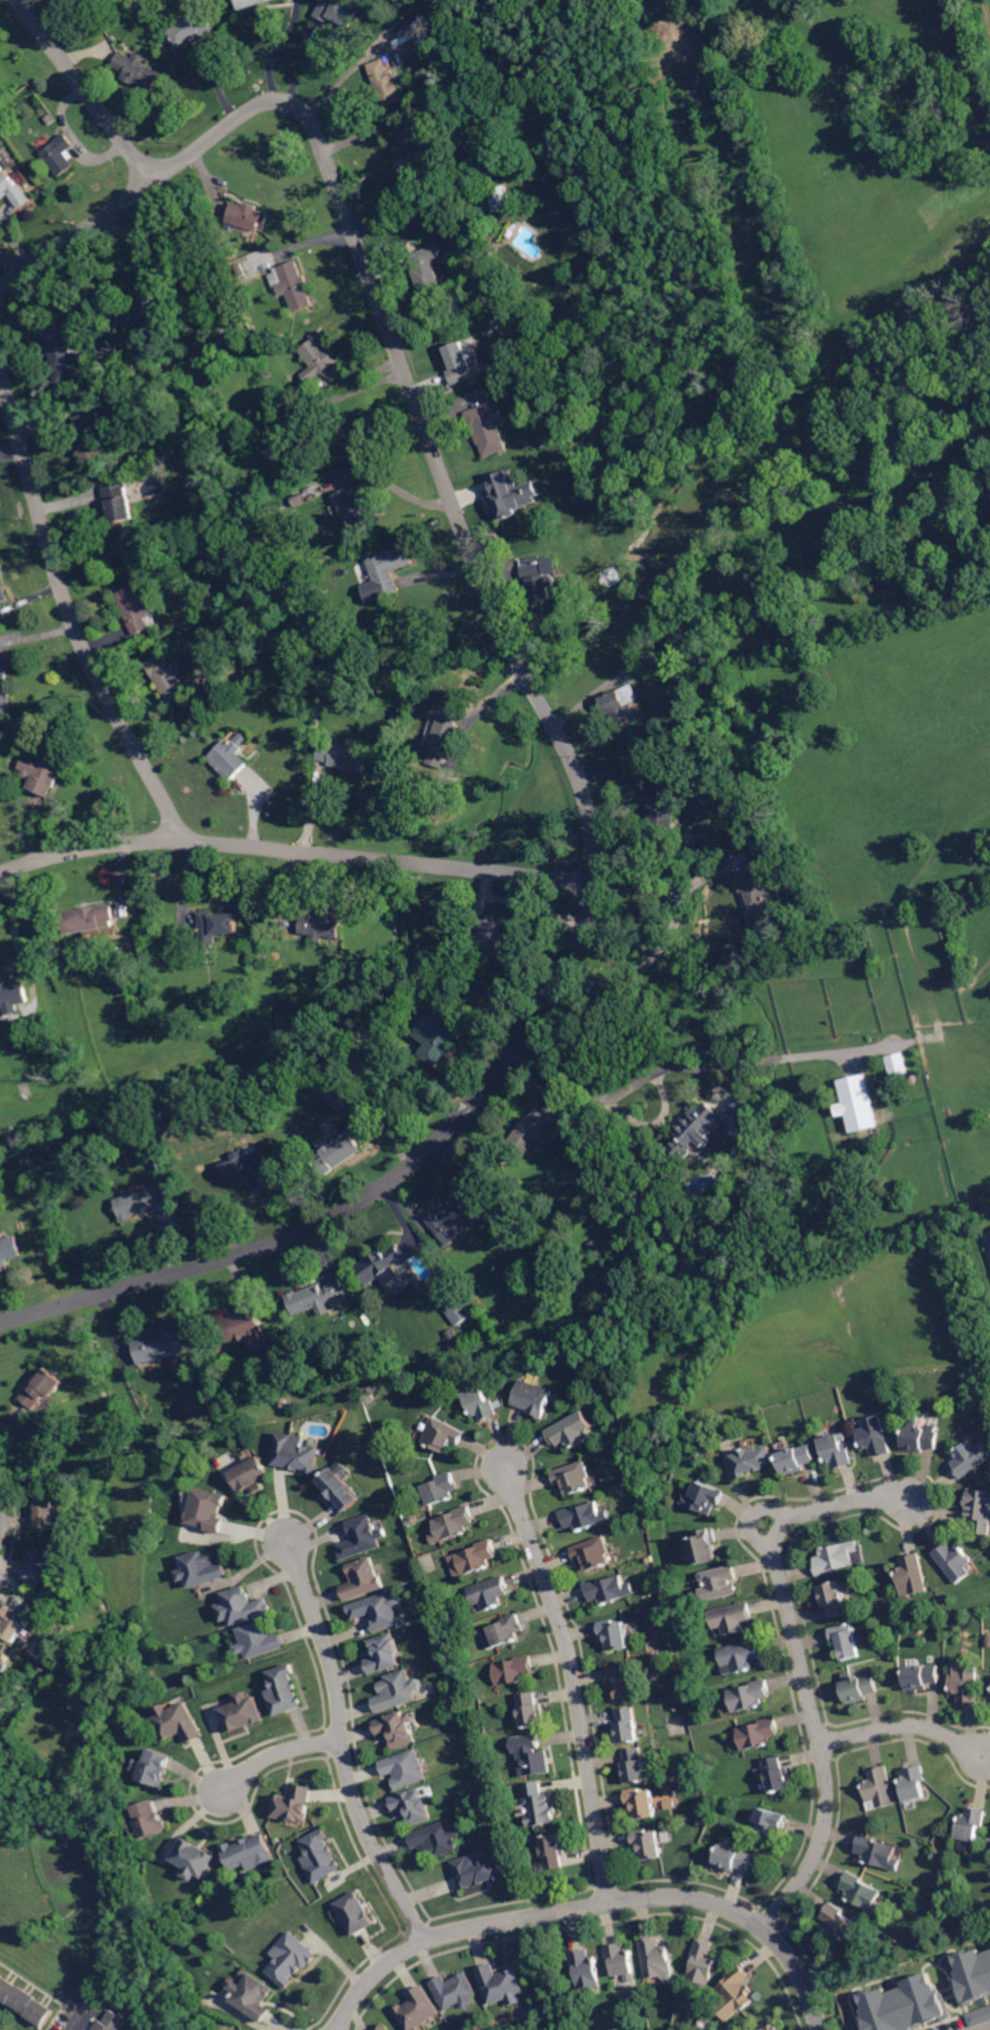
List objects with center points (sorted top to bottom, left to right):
building: (250, 3)
building: (338, 12)
building: (190, 28)
road: (276, 48)
building: (137, 70)
road: (345, 75)
building: (386, 83)
road: (86, 89)
building: (558, 140)
building: (60, 152)
building: (414, 152)
building: (13, 191)
building: (502, 199)
building: (247, 214)
road: (76, 233)
building: (426, 272)
building: (295, 286)
road: (227, 298)
building: (145, 303)
building: (62, 354)
building: (320, 361)
building: (459, 363)
building: (190, 393)
building: (116, 424)
building: (489, 428)
building: (90, 436)
building: (346, 439)
building: (622, 492)
building: (506, 498)
building: (123, 500)
building: (354, 512)
building: (390, 569)
building: (541, 576)
building: (4, 588)
building: (139, 608)
road: (71, 609)
building: (264, 666)
building: (172, 675)
building: (7, 686)
building: (694, 694)
building: (622, 705)
building: (444, 739)
building: (232, 756)
building: (343, 757)
building: (42, 775)
road: (580, 775)
building: (663, 814)
road: (295, 850)
building: (758, 896)
building: (89, 917)
road: (14, 919)
building: (323, 922)
building: (217, 925)
building: (491, 937)
road: (662, 948)
building: (416, 955)
building: (12, 994)
building: (440, 1044)
building: (897, 1065)
building: (330, 1068)
road: (658, 1071)
building: (859, 1102)
building: (742, 1123)
building: (538, 1128)
building: (693, 1132)
building: (337, 1151)
building: (246, 1164)
building: (162, 1165)
building: (147, 1200)
building: (672, 1204)
building: (455, 1222)
building: (599, 1248)
building: (10, 1249)
building: (381, 1262)
building: (560, 1279)
building: (316, 1295)
building: (457, 1312)
building: (247, 1325)
building: (456, 1338)
building: (160, 1345)
building: (377, 1361)
building: (43, 1388)
building: (532, 1398)
building: (479, 1404)
building: (571, 1431)
building: (442, 1435)
building: (875, 1436)
building: (919, 1438)
building: (836, 1451)
building: (296, 1453)
building: (970, 1457)
building: (796, 1459)
building: (752, 1460)
building: (250, 1474)
building: (574, 1477)
building: (440, 1488)
building: (339, 1489)
building: (702, 1497)
building: (979, 1509)
building: (207, 1511)
building: (48, 1512)
building: (584, 1516)
road: (0, 1518)
building: (452, 1524)
building: (361, 1538)
building: (701, 1545)
building: (595, 1552)
building: (477, 1557)
building: (835, 1557)
building: (954, 1561)
building: (41, 1565)
building: (203, 1569)
building: (912, 1574)
building: (363, 1580)
building: (718, 1583)
building: (607, 1589)
building: (490, 1593)
building: (834, 1598)
building: (242, 1607)
building: (379, 1611)
building: (732, 1617)
building: (13, 1623)
building: (507, 1630)
building: (615, 1634)
building: (260, 1640)
building: (845, 1641)
building: (0, 1647)
road: (798, 1651)
building: (384, 1654)
building: (741, 1655)
building: (69, 1659)
building: (4, 1663)
road: (571, 1666)
building: (516, 1669)
building: (922, 1676)
building: (624, 1680)
building: (966, 1683)
building: (858, 1687)
building: (283, 1691)
building: (398, 1692)
building: (749, 1695)
building: (532, 1711)
building: (243, 1714)
building: (77, 1723)
building: (178, 1723)
building: (627, 1725)
road: (906, 1725)
building: (95, 1728)
road: (340, 1728)
building: (398, 1730)
building: (66, 1731)
building: (758, 1733)
building: (50, 1748)
building: (535, 1754)
road: (261, 1759)
building: (632, 1765)
building: (155, 1768)
building: (406, 1769)
building: (777, 1774)
building: (913, 1783)
building: (879, 1787)
building: (543, 1803)
building: (640, 1803)
building: (669, 1803)
building: (294, 1805)
building: (413, 1806)
building: (149, 1820)
building: (771, 1821)
building: (971, 1823)
building: (438, 1839)
building: (649, 1844)
building: (557, 1851)
building: (877, 1852)
building: (250, 1853)
building: (320, 1857)
building: (737, 1857)
building: (194, 1860)
building: (477, 1871)
building: (862, 1893)
road: (590, 1908)
building: (355, 1914)
building: (841, 1925)
building: (655, 1957)
building: (623, 1958)
building: (292, 1959)
building: (705, 1962)
building: (585, 1968)
building: (976, 1971)
building: (502, 1985)
building: (456, 1992)
building: (737, 1992)
building: (252, 1996)
building: (25, 1999)
building: (902, 2004)
building: (418, 2009)
building: (979, 2015)
road: (85, 2017)
building: (109, 2024)
road: (978, 2025)
building: (772, 2027)
building: (385, 2028)

